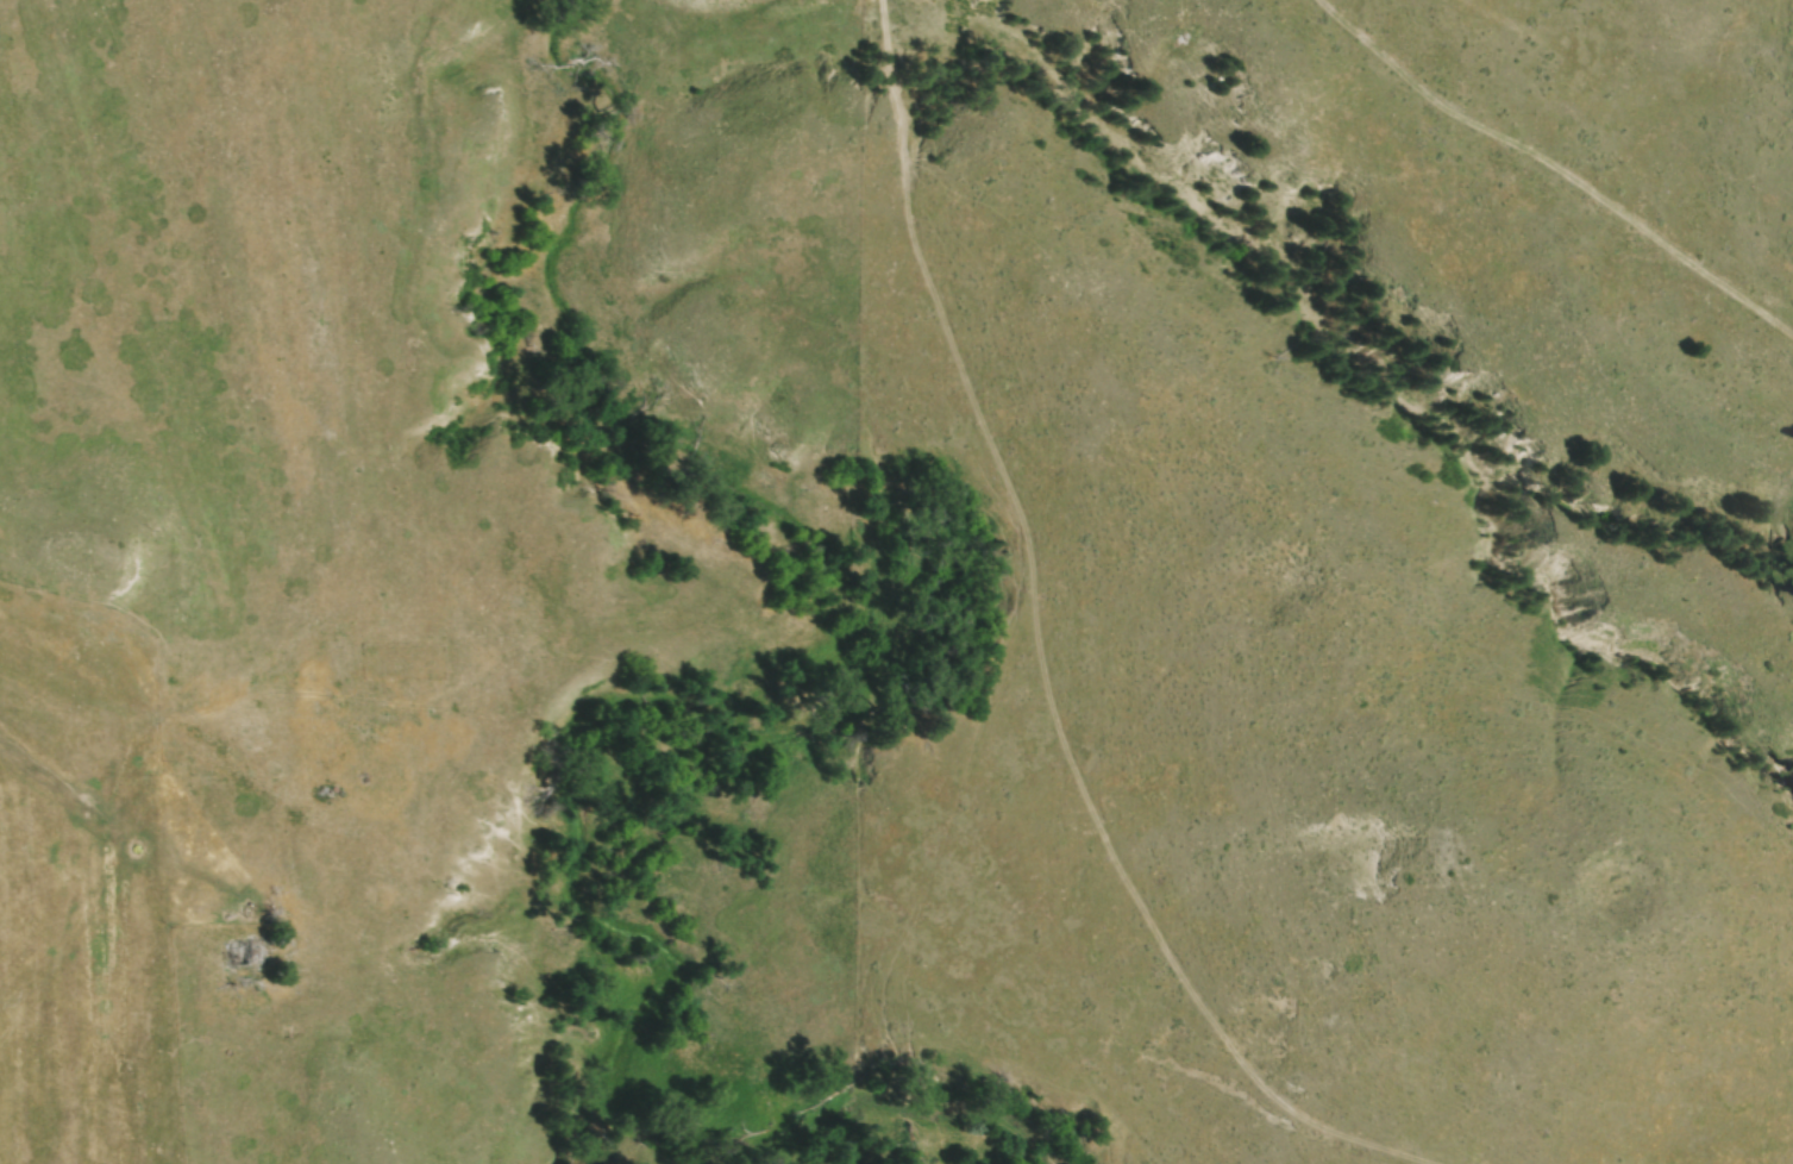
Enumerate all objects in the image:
building: (243, 951)

